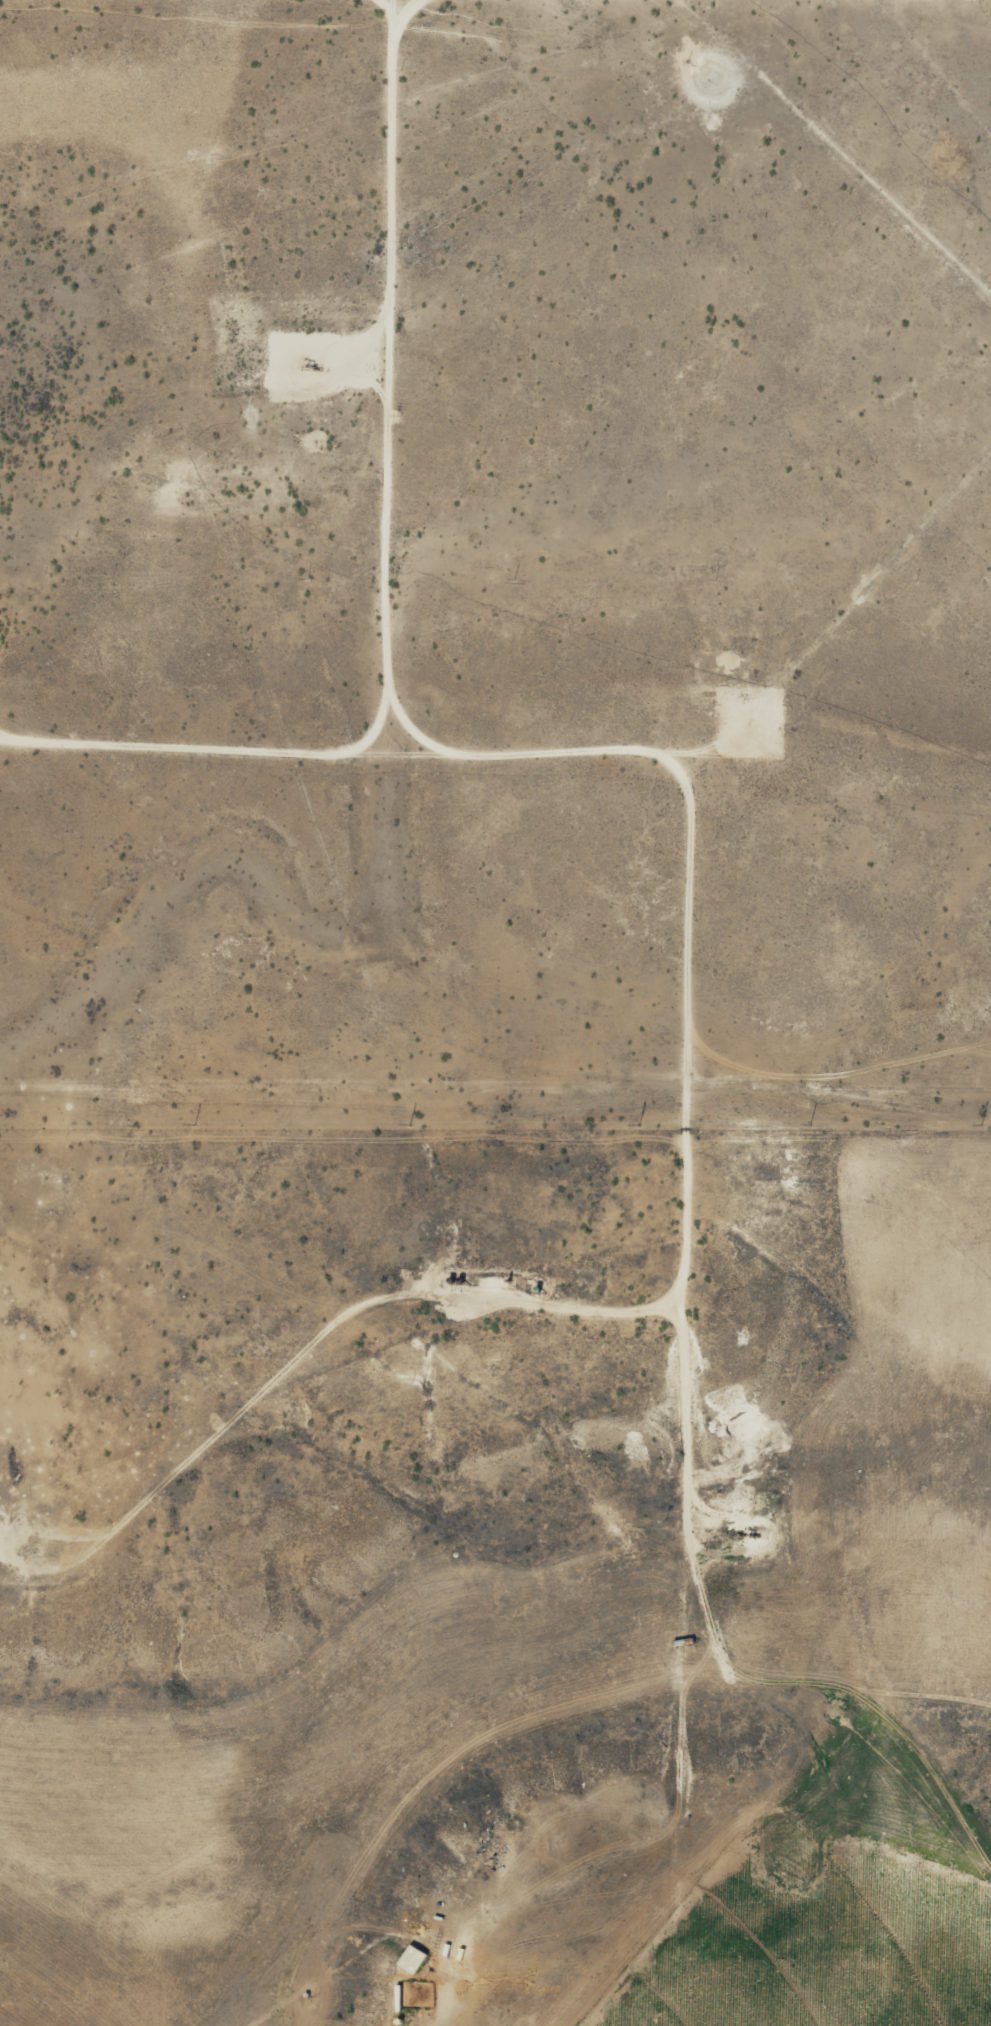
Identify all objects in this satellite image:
road: (372, 360)
road: (393, 702)
road: (672, 1049)
road: (320, 1326)

